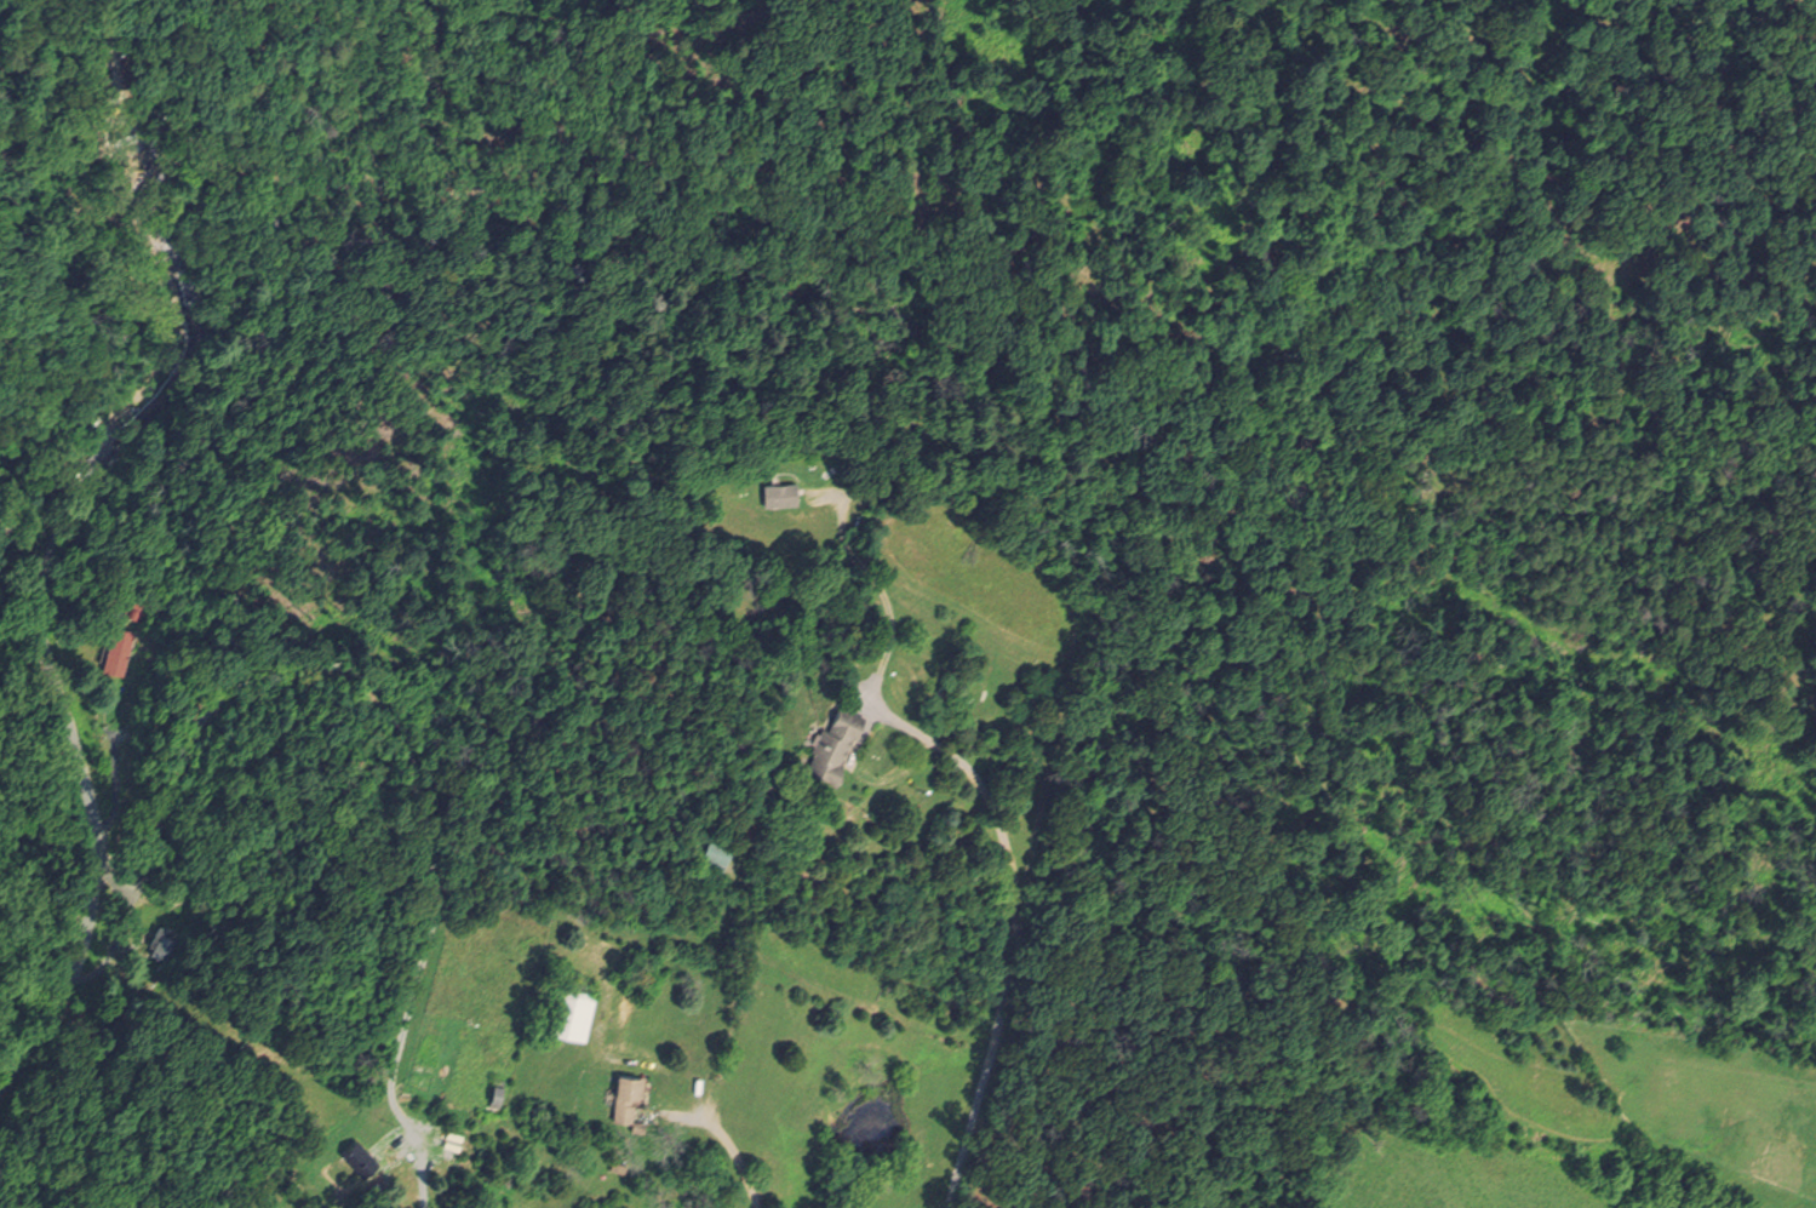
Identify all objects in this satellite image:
building: (783, 497)
road: (992, 527)
road: (56, 531)
building: (118, 654)
road: (384, 699)
building: (833, 746)
road: (116, 786)
building: (716, 851)
road: (1012, 937)
building: (164, 946)
building: (568, 1006)
building: (629, 1089)
building: (614, 1095)
building: (357, 1155)
road: (735, 1160)
building: (340, 1164)
road: (417, 1173)

